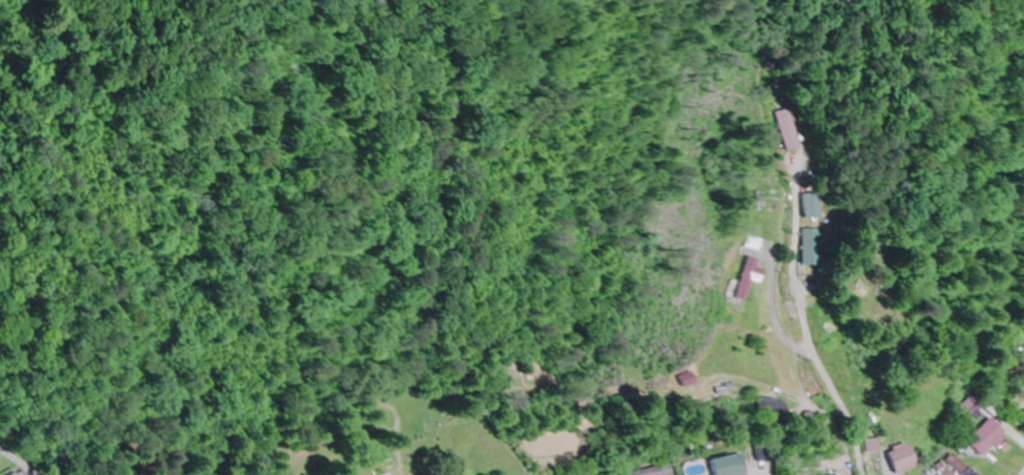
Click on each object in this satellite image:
building: (791, 130)
building: (814, 206)
building: (756, 244)
road: (605, 247)
building: (812, 247)
building: (752, 279)
building: (833, 324)
building: (685, 380)
building: (866, 380)
building: (767, 408)
building: (973, 409)
building: (987, 436)
building: (901, 458)
building: (729, 465)
building: (954, 467)
building: (653, 471)
building: (17, 474)
building: (388, 474)
road: (1023, 474)

